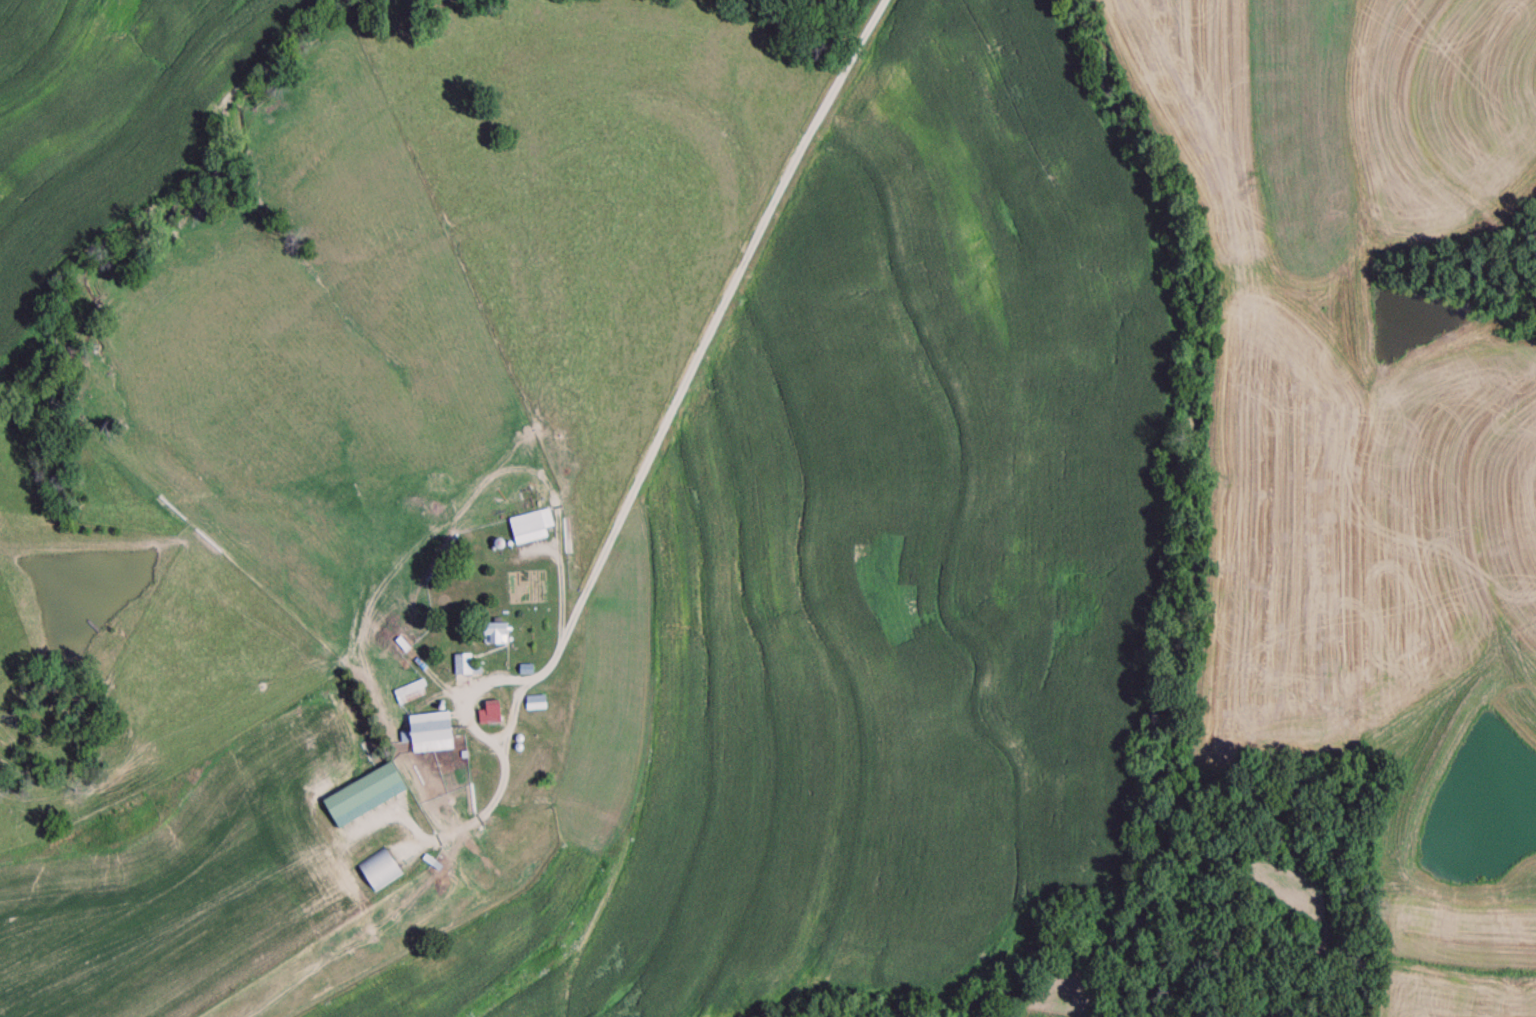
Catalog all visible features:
building: (534, 528)
building: (501, 635)
building: (465, 666)
building: (529, 671)
building: (412, 694)
building: (540, 704)
building: (494, 714)
building: (434, 734)
building: (368, 797)
building: (384, 868)

